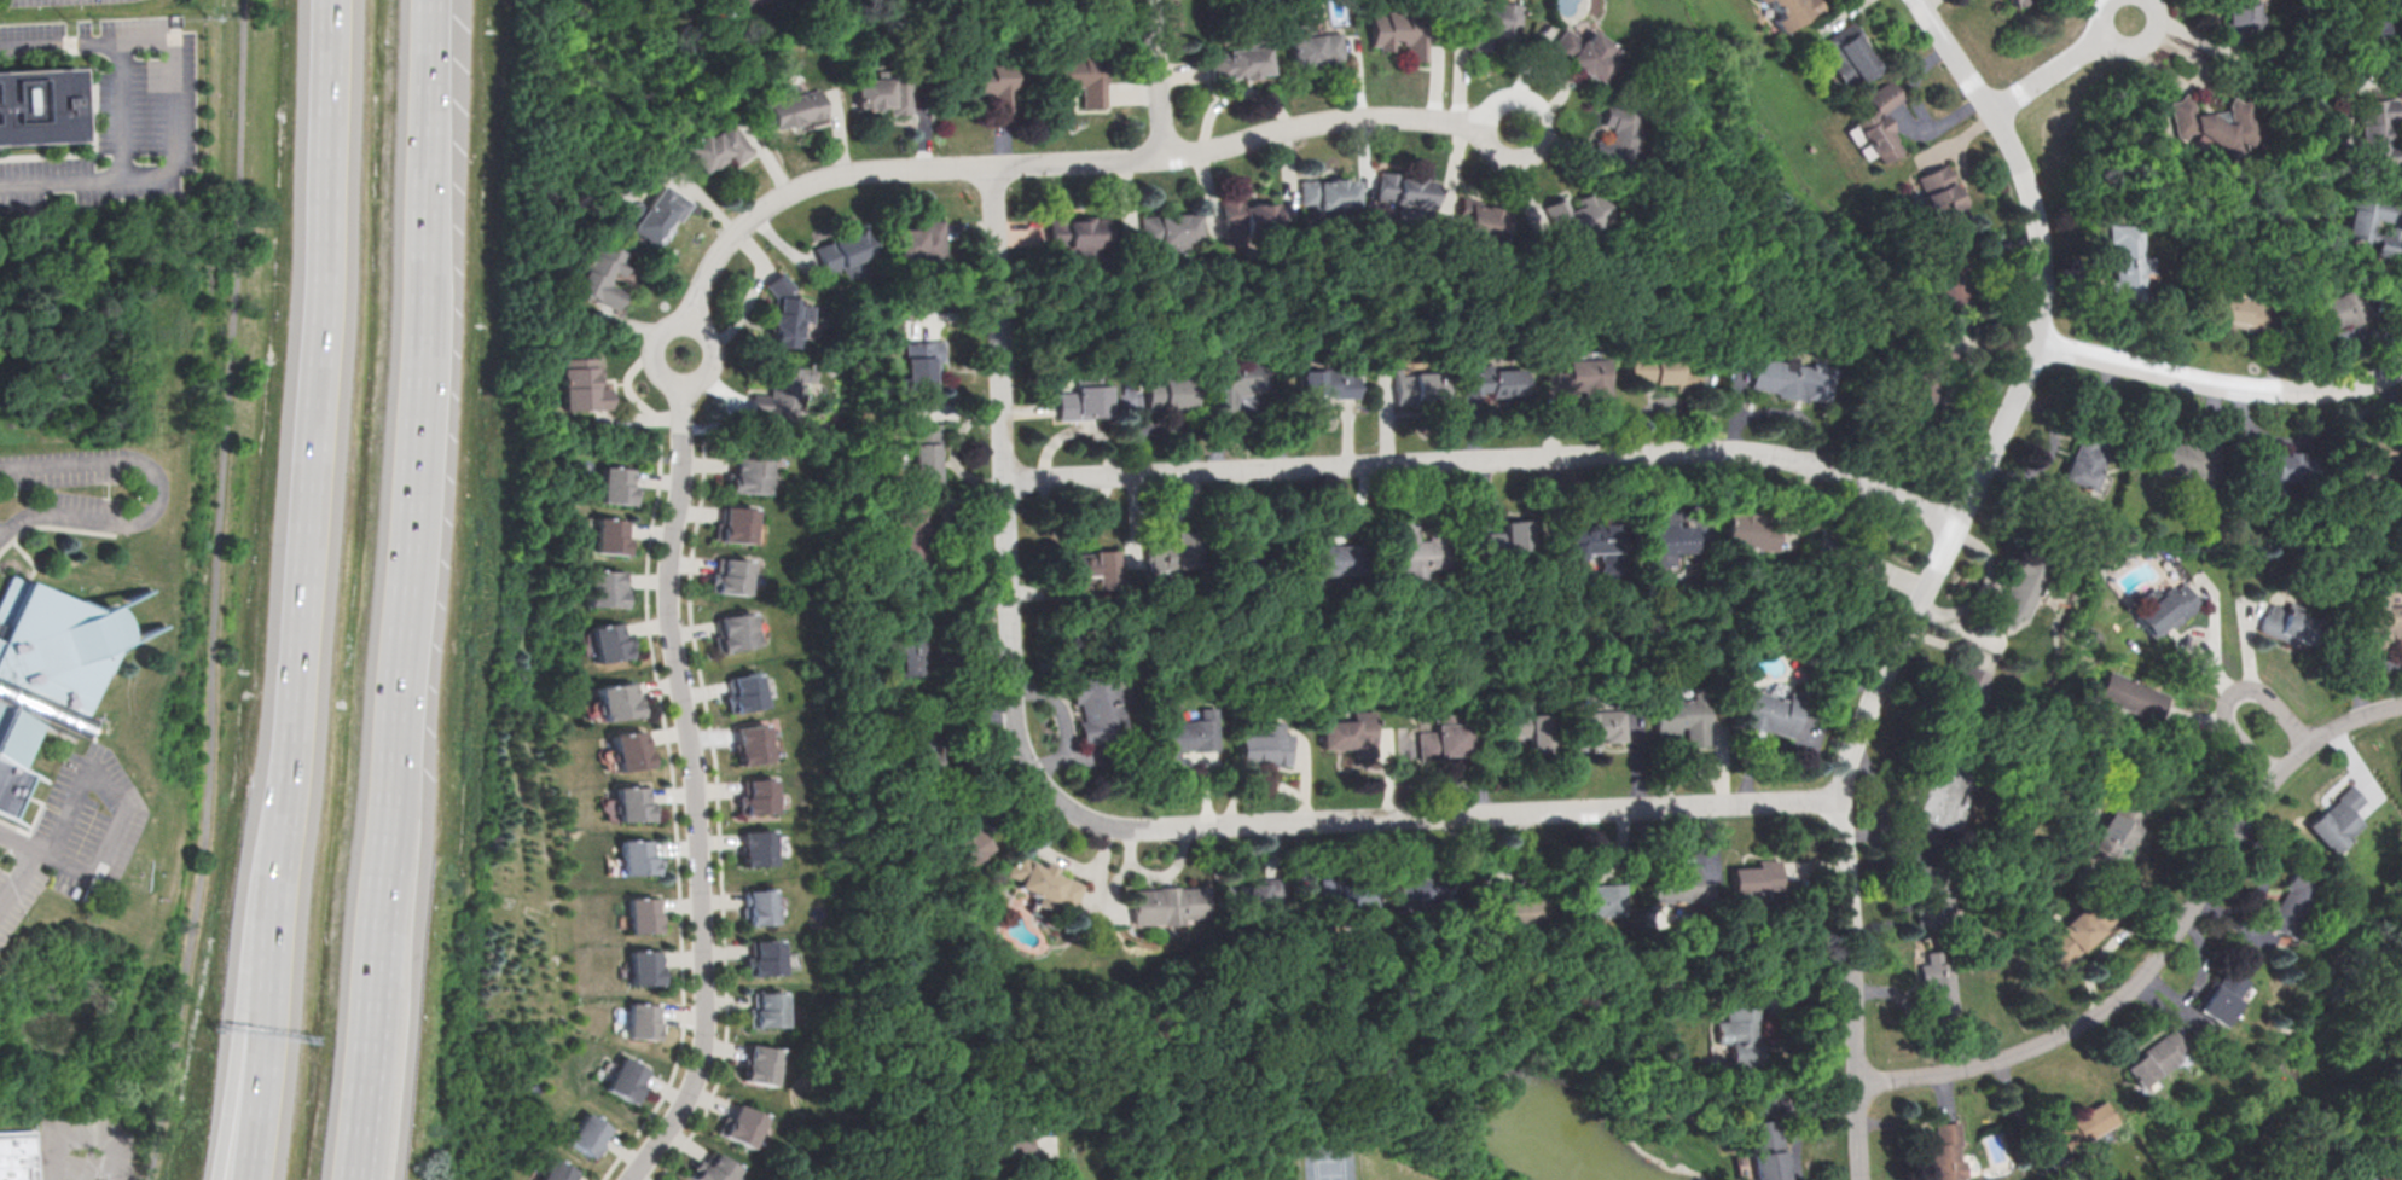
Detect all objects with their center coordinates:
building: (724, 0)
building: (756, 0)
building: (667, 1)
building: (2014, 1)
building: (1786, 11)
building: (2240, 21)
building: (1496, 23)
building: (1403, 29)
building: (2373, 34)
building: (1316, 42)
building: (1585, 53)
building: (1849, 53)
building: (1241, 56)
road: (2064, 65)
building: (1074, 74)
road: (1160, 77)
road: (1530, 77)
building: (984, 81)
building: (887, 87)
road: (1234, 94)
building: (36, 105)
building: (797, 106)
road: (169, 107)
building: (1878, 120)
building: (2212, 121)
building: (1619, 132)
building: (2380, 132)
building: (716, 144)
road: (1069, 162)
road: (1522, 188)
building: (1406, 191)
building: (1937, 192)
building: (1330, 197)
building: (656, 211)
building: (1577, 214)
building: (1246, 216)
building: (1485, 216)
building: (2369, 220)
building: (1168, 227)
building: (1078, 233)
building: (918, 239)
building: (843, 250)
building: (2128, 261)
building: (1949, 266)
building: (602, 272)
building: (2235, 308)
building: (2340, 309)
building: (802, 312)
building: (781, 314)
building: (2354, 338)
road: (652, 349)
road: (720, 360)
building: (922, 360)
building: (1665, 368)
building: (1583, 374)
building: (1793, 376)
building: (1240, 377)
building: (1928, 377)
building: (1496, 378)
building: (580, 382)
building: (1325, 383)
building: (1416, 383)
road: (2220, 383)
building: (779, 388)
building: (1168, 389)
road: (321, 394)
building: (1083, 395)
building: (1131, 396)
road: (1077, 430)
building: (927, 452)
building: (2085, 452)
building: (2185, 457)
road: (1491, 458)
building: (2282, 464)
building: (2369, 464)
building: (747, 472)
building: (615, 483)
road: (159, 493)
building: (735, 522)
building: (1753, 528)
building: (909, 530)
building: (609, 535)
building: (1586, 536)
building: (1504, 537)
building: (1666, 540)
building: (1420, 546)
building: (1174, 548)
building: (1259, 550)
building: (1330, 554)
building: (1840, 557)
building: (1095, 570)
road: (1937, 572)
building: (730, 574)
building: (603, 585)
building: (2020, 588)
road: (407, 591)
road: (219, 592)
building: (2166, 609)
building: (2378, 618)
building: (2290, 623)
building: (733, 629)
building: (608, 640)
building: (911, 641)
building: (45, 673)
building: (744, 691)
building: (1967, 694)
building: (2134, 694)
road: (2223, 696)
building: (616, 698)
building: (1100, 709)
building: (1770, 710)
building: (1687, 715)
building: (1599, 726)
building: (1532, 727)
building: (922, 732)
building: (1353, 732)
building: (1185, 737)
building: (1447, 737)
building: (750, 740)
building: (1266, 740)
building: (629, 749)
building: (2401, 767)
road: (692, 792)
road: (110, 794)
building: (758, 795)
building: (1945, 795)
building: (632, 802)
building: (2337, 819)
road: (1127, 826)
building: (2122, 829)
building: (964, 833)
road: (23, 844)
building: (758, 845)
building: (634, 856)
road: (17, 874)
building: (1756, 874)
building: (1048, 882)
building: (1678, 884)
building: (1420, 887)
building: (1348, 890)
building: (1589, 893)
building: (1937, 896)
building: (2281, 901)
building: (1170, 902)
building: (1253, 902)
building: (759, 905)
road: (275, 907)
building: (1518, 909)
building: (640, 912)
building: (2085, 930)
road: (2166, 947)
building: (764, 957)
building: (642, 964)
building: (1940, 982)
building: (2224, 996)
building: (768, 1007)
building: (640, 1018)
building: (1739, 1030)
building: (2159, 1062)
building: (760, 1064)
building: (626, 1079)
road: (225, 1100)
building: (2391, 1103)
road: (254, 1104)
road: (1804, 1122)
building: (738, 1123)
building: (2088, 1126)
building: (587, 1133)
building: (1002, 1139)
road: (89, 1141)
building: (1768, 1149)
building: (1945, 1151)
road: (1052, 1152)
building: (18, 1156)
park: (1330, 1161)
building: (710, 1168)
building: (556, 1170)
building: (2360, 1178)

